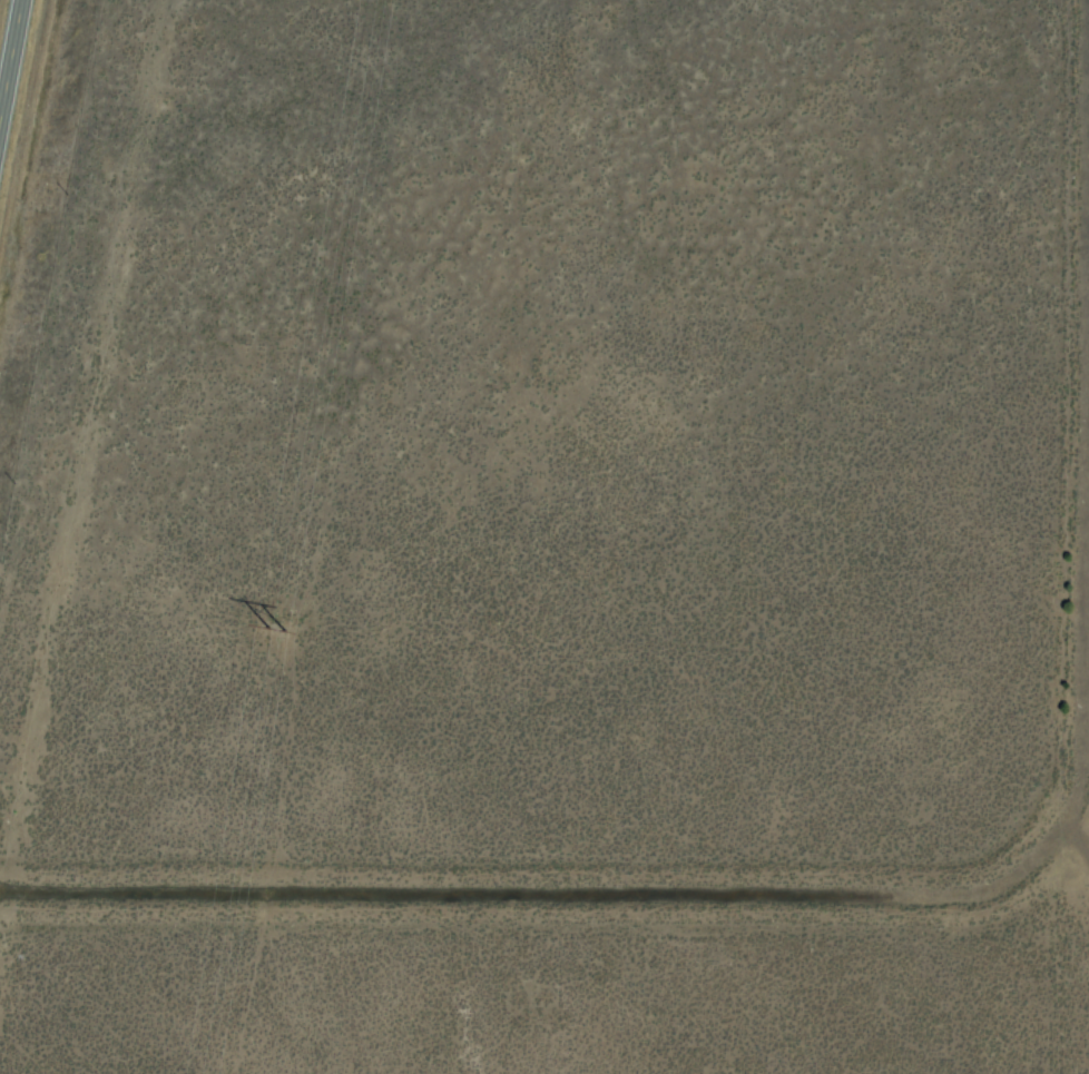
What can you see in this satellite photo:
road: (11, 61)
power tower: (267, 624)

